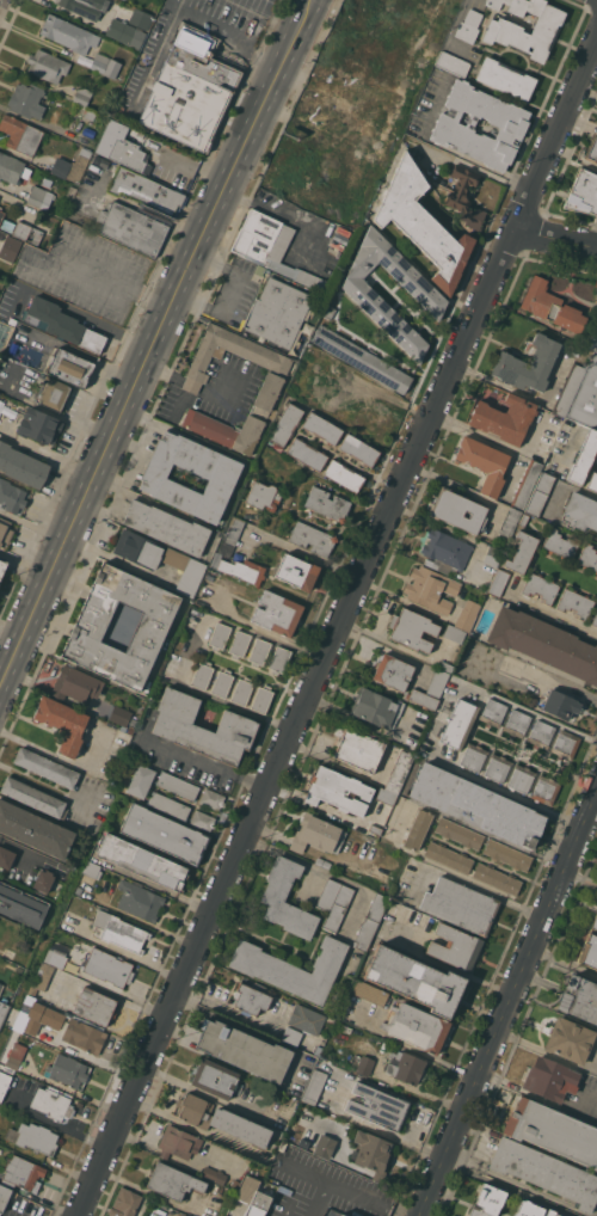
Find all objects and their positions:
building: (85, 6)
building: (140, 18)
building: (468, 26)
road: (202, 31)
building: (124, 32)
building: (505, 32)
building: (69, 33)
building: (367, 43)
road: (412, 56)
building: (101, 63)
building: (453, 63)
building: (47, 65)
building: (505, 79)
building: (82, 96)
building: (187, 96)
building: (26, 100)
building: (118, 112)
building: (90, 113)
building: (510, 123)
building: (596, 125)
road: (378, 130)
road: (554, 130)
building: (88, 131)
building: (20, 134)
building: (410, 137)
building: (592, 148)
building: (127, 152)
building: (70, 166)
building: (12, 168)
building: (310, 180)
building: (146, 190)
building: (583, 192)
building: (38, 196)
building: (464, 197)
building: (0, 207)
building: (1, 215)
road: (287, 217)
building: (421, 223)
building: (7, 225)
building: (131, 228)
building: (27, 232)
road: (554, 237)
building: (267, 245)
building: (10, 247)
building: (259, 270)
building: (596, 289)
road: (230, 294)
building: (362, 294)
building: (550, 306)
building: (278, 312)
building: (328, 312)
building: (63, 324)
building: (592, 338)
road: (158, 348)
building: (362, 358)
building: (528, 364)
building: (69, 368)
road: (167, 373)
road: (191, 383)
road: (189, 387)
building: (266, 388)
building: (568, 388)
building: (53, 393)
building: (586, 395)
road: (224, 398)
road: (180, 406)
building: (504, 418)
building: (285, 423)
building: (39, 425)
building: (321, 428)
building: (358, 449)
building: (307, 453)
building: (596, 456)
building: (584, 457)
building: (484, 462)
building: (21, 465)
building: (344, 475)
building: (221, 477)
building: (592, 481)
building: (527, 484)
building: (540, 493)
building: (11, 496)
building: (39, 496)
building: (263, 496)
building: (327, 504)
building: (457, 510)
building: (580, 511)
building: (523, 520)
building: (510, 521)
building: (166, 527)
building: (5, 530)
building: (230, 536)
building: (313, 538)
building: (560, 543)
building: (137, 548)
building: (447, 548)
building: (522, 552)
building: (492, 554)
building: (587, 557)
building: (215, 558)
building: (2, 566)
building: (242, 570)
building: (185, 571)
building: (297, 571)
building: (499, 582)
building: (540, 586)
building: (431, 588)
building: (576, 602)
road: (553, 612)
building: (277, 613)
building: (467, 615)
building: (595, 619)
building: (90, 626)
building: (412, 628)
building: (454, 633)
building: (220, 635)
building: (544, 643)
building: (239, 644)
building: (259, 651)
building: (279, 659)
building: (447, 665)
building: (393, 671)
road: (535, 673)
building: (202, 675)
building: (438, 682)
building: (222, 683)
building: (76, 684)
building: (241, 690)
building: (423, 698)
building: (261, 699)
building: (560, 704)
building: (535, 706)
building: (374, 708)
building: (493, 712)
building: (134, 721)
road: (293, 721)
building: (62, 723)
building: (458, 723)
building: (517, 723)
building: (131, 729)
building: (203, 729)
building: (541, 733)
building: (565, 744)
building: (357, 748)
building: (473, 756)
road: (207, 760)
building: (47, 767)
building: (497, 767)
building: (562, 769)
building: (399, 770)
building: (521, 778)
building: (141, 780)
building: (178, 785)
building: (544, 790)
building: (338, 791)
road: (505, 791)
building: (386, 796)
building: (33, 797)
building: (213, 799)
building: (168, 805)
building: (476, 805)
building: (202, 821)
building: (35, 829)
building: (375, 829)
building: (418, 829)
building: (164, 833)
building: (458, 833)
building: (316, 834)
building: (507, 854)
building: (6, 856)
building: (448, 856)
building: (141, 861)
building: (322, 862)
building: (92, 870)
building: (497, 878)
building: (43, 880)
building: (276, 891)
building: (139, 901)
building: (333, 902)
building: (460, 904)
building: (21, 905)
building: (370, 921)
building: (595, 922)
building: (118, 932)
building: (455, 946)
building: (589, 951)
building: (60, 957)
road: (562, 962)
building: (107, 968)
building: (293, 968)
building: (41, 978)
building: (414, 979)
building: (370, 993)
road: (116, 996)
building: (251, 997)
building: (579, 999)
road: (506, 1000)
building: (94, 1006)
building: (4, 1011)
building: (39, 1018)
building: (307, 1019)
building: (417, 1026)
building: (84, 1036)
building: (291, 1036)
building: (570, 1039)
road: (410, 1045)
building: (244, 1050)
building: (16, 1056)
building: (362, 1064)
building: (406, 1067)
building: (68, 1070)
building: (215, 1079)
building: (550, 1079)
building: (4, 1083)
building: (315, 1086)
building: (51, 1104)
building: (377, 1106)
building: (220, 1119)
road: (384, 1130)
building: (553, 1131)
building: (37, 1137)
building: (177, 1142)
building: (303, 1142)
building: (325, 1146)
building: (373, 1153)
road: (301, 1171)
building: (546, 1172)
building: (20, 1173)
building: (214, 1174)
building: (173, 1181)
building: (235, 1183)
road: (356, 1193)
building: (5, 1196)
building: (253, 1197)
road: (312, 1197)
building: (487, 1200)
building: (124, 1203)
building: (528, 1209)
road: (396, 1212)
building: (550, 1212)
building: (337, 1215)
building: (340, 1215)

